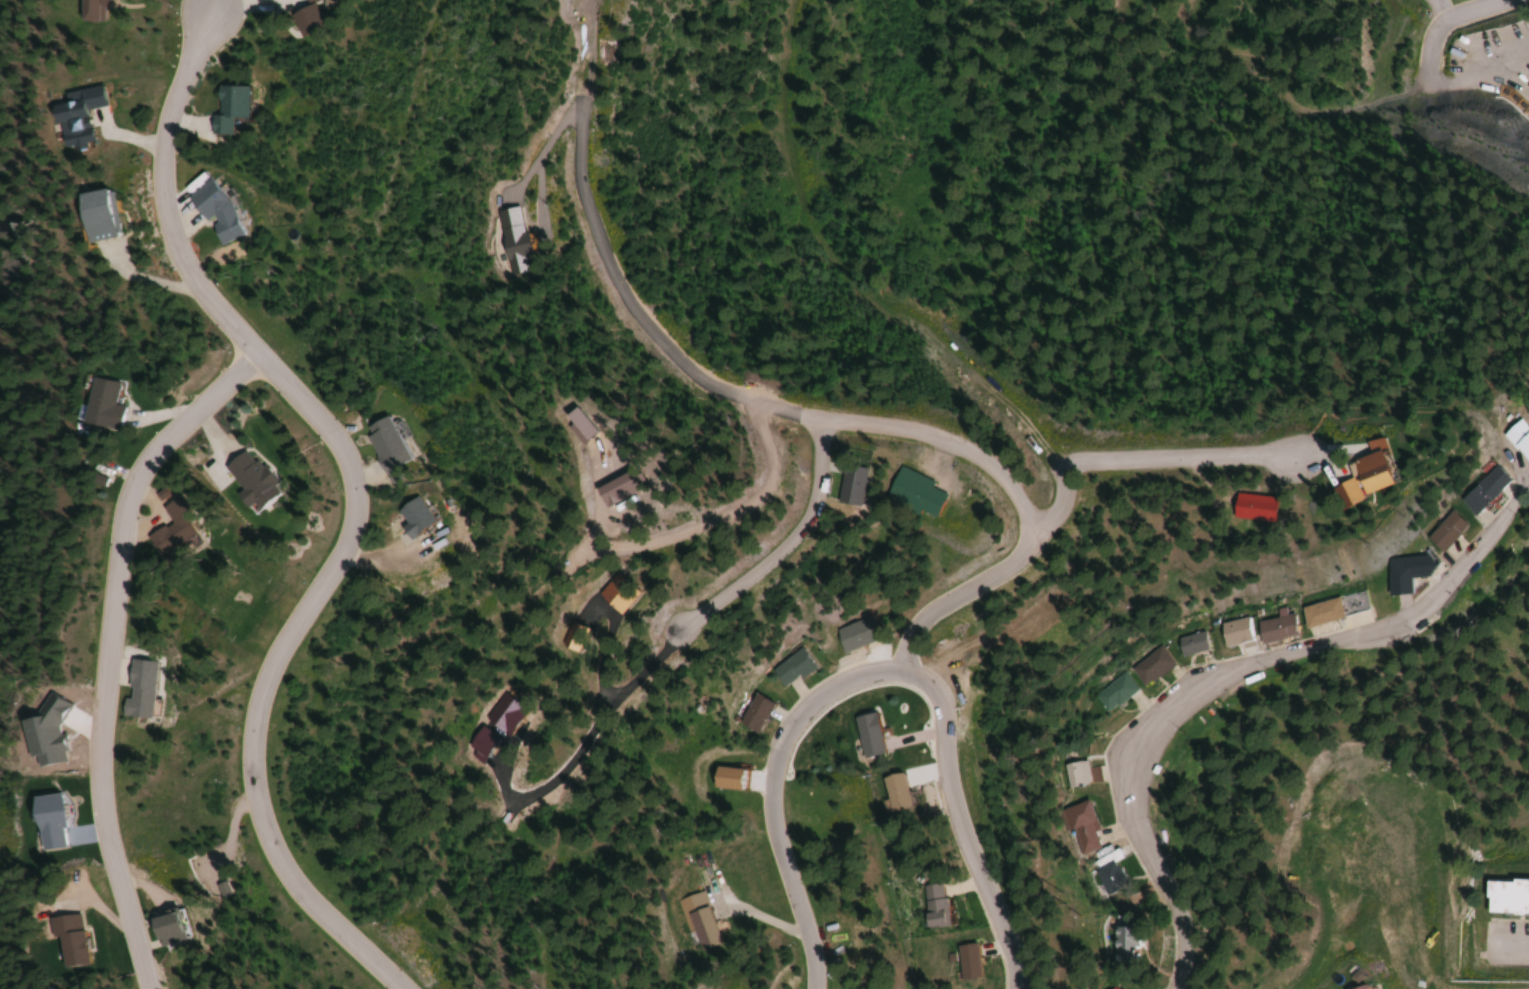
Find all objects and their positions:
building: (89, 10)
road: (1447, 24)
building: (225, 108)
building: (65, 116)
building: (212, 213)
building: (89, 216)
building: (96, 404)
road: (783, 412)
road: (154, 415)
road: (213, 434)
building: (380, 444)
building: (1502, 447)
road: (1129, 462)
building: (248, 480)
building: (1343, 480)
building: (1464, 492)
building: (908, 494)
road: (353, 500)
building: (1238, 509)
road: (154, 516)
building: (406, 518)
building: (173, 526)
building: (1429, 534)
road: (781, 543)
building: (1394, 574)
building: (1350, 604)
building: (1317, 614)
building: (1272, 630)
building: (1232, 632)
building: (851, 635)
building: (1187, 645)
road: (106, 647)
building: (1147, 667)
building: (788, 669)
road: (115, 673)
road: (1227, 675)
road: (876, 678)
building: (134, 690)
building: (1112, 693)
building: (752, 714)
building: (865, 736)
building: (1072, 775)
building: (724, 779)
building: (892, 793)
building: (45, 819)
building: (1080, 828)
road: (81, 834)
building: (1107, 871)
road: (142, 886)
building: (1505, 899)
road: (100, 906)
building: (930, 906)
building: (696, 920)
building: (162, 923)
building: (85, 939)
road: (1509, 939)
building: (1122, 945)
building: (964, 962)
building: (1357, 987)
building: (1112, 988)

